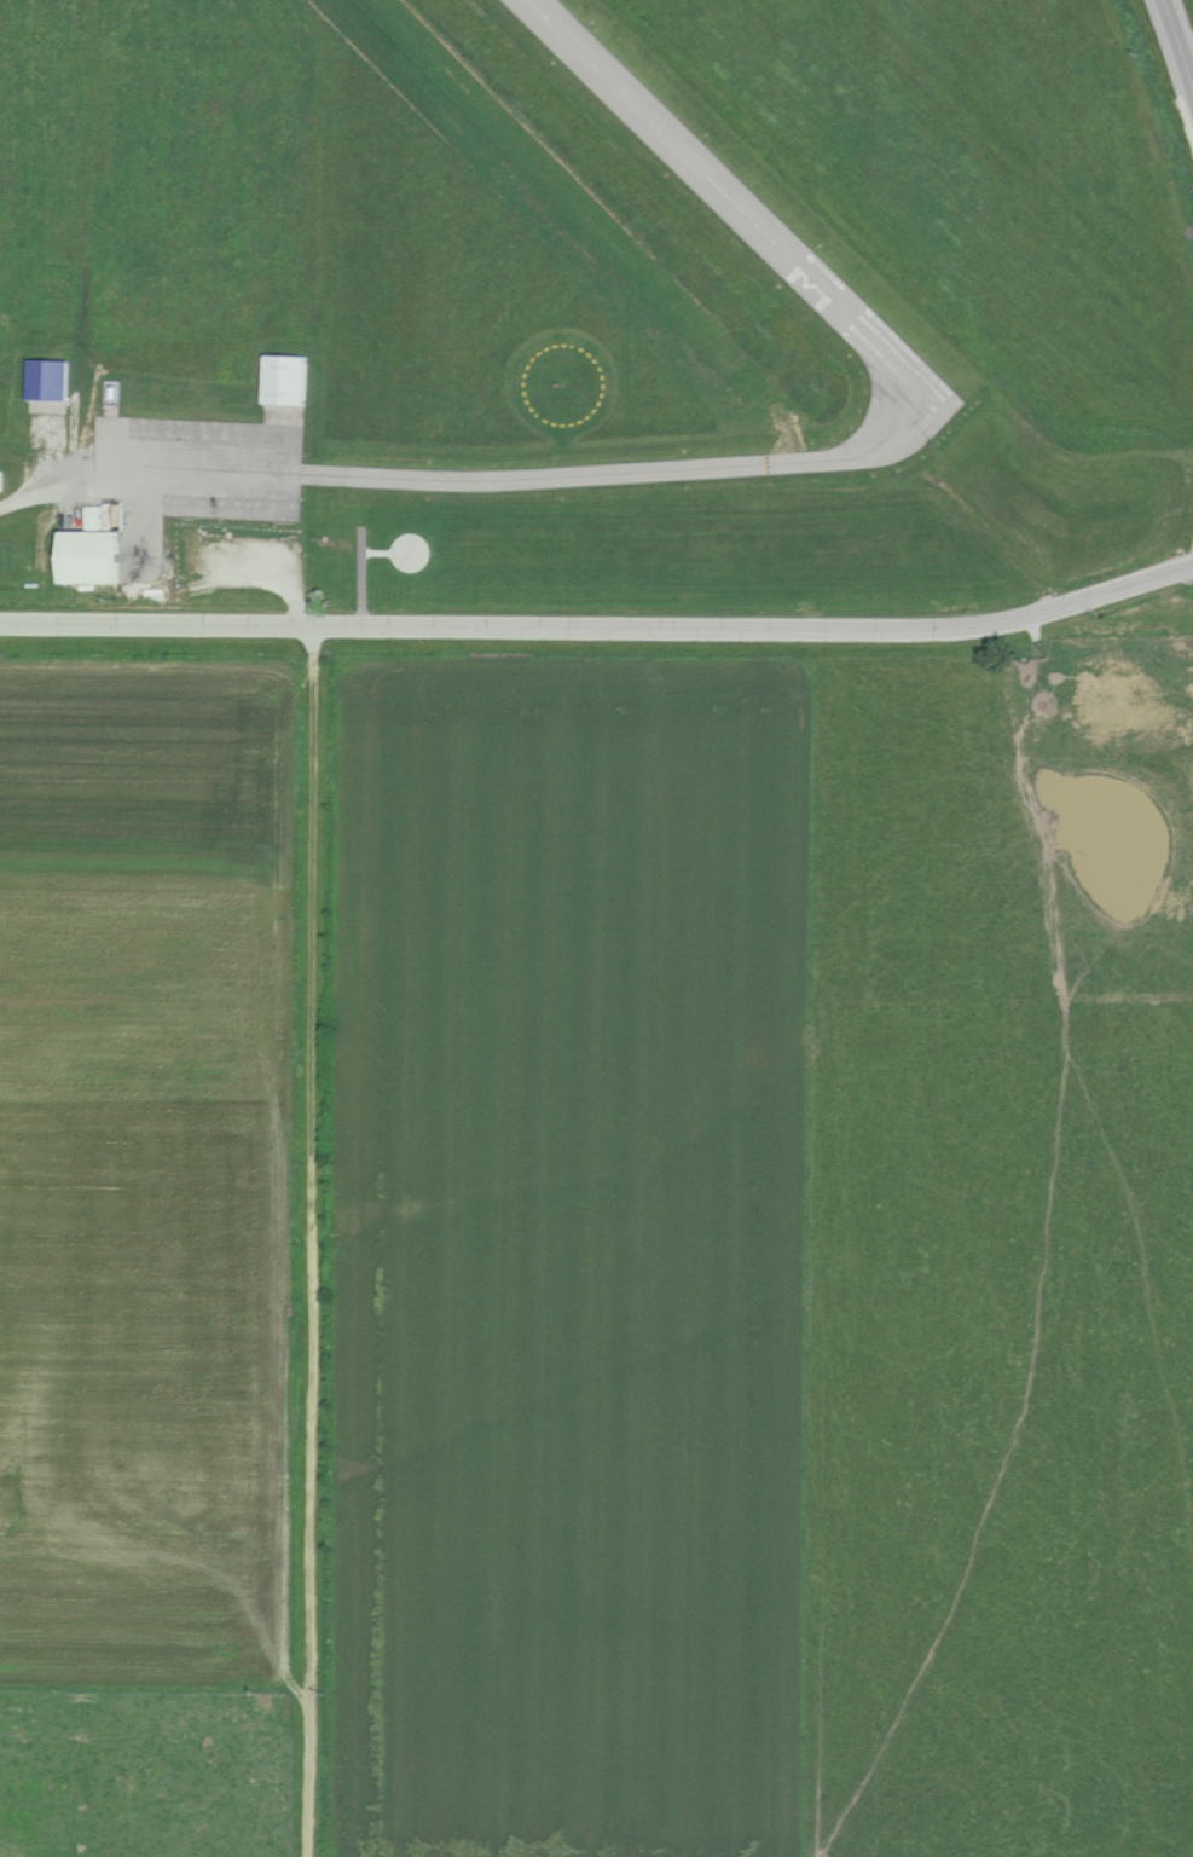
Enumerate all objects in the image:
road: (1176, 46)
airport runway: (739, 207)
airport: (526, 324)
building: (291, 378)
building: (52, 380)
airport taxiway: (629, 470)
building: (2, 480)
road: (41, 493)
building: (104, 516)
road: (137, 531)
building: (98, 556)
road: (600, 625)
road: (314, 1239)

